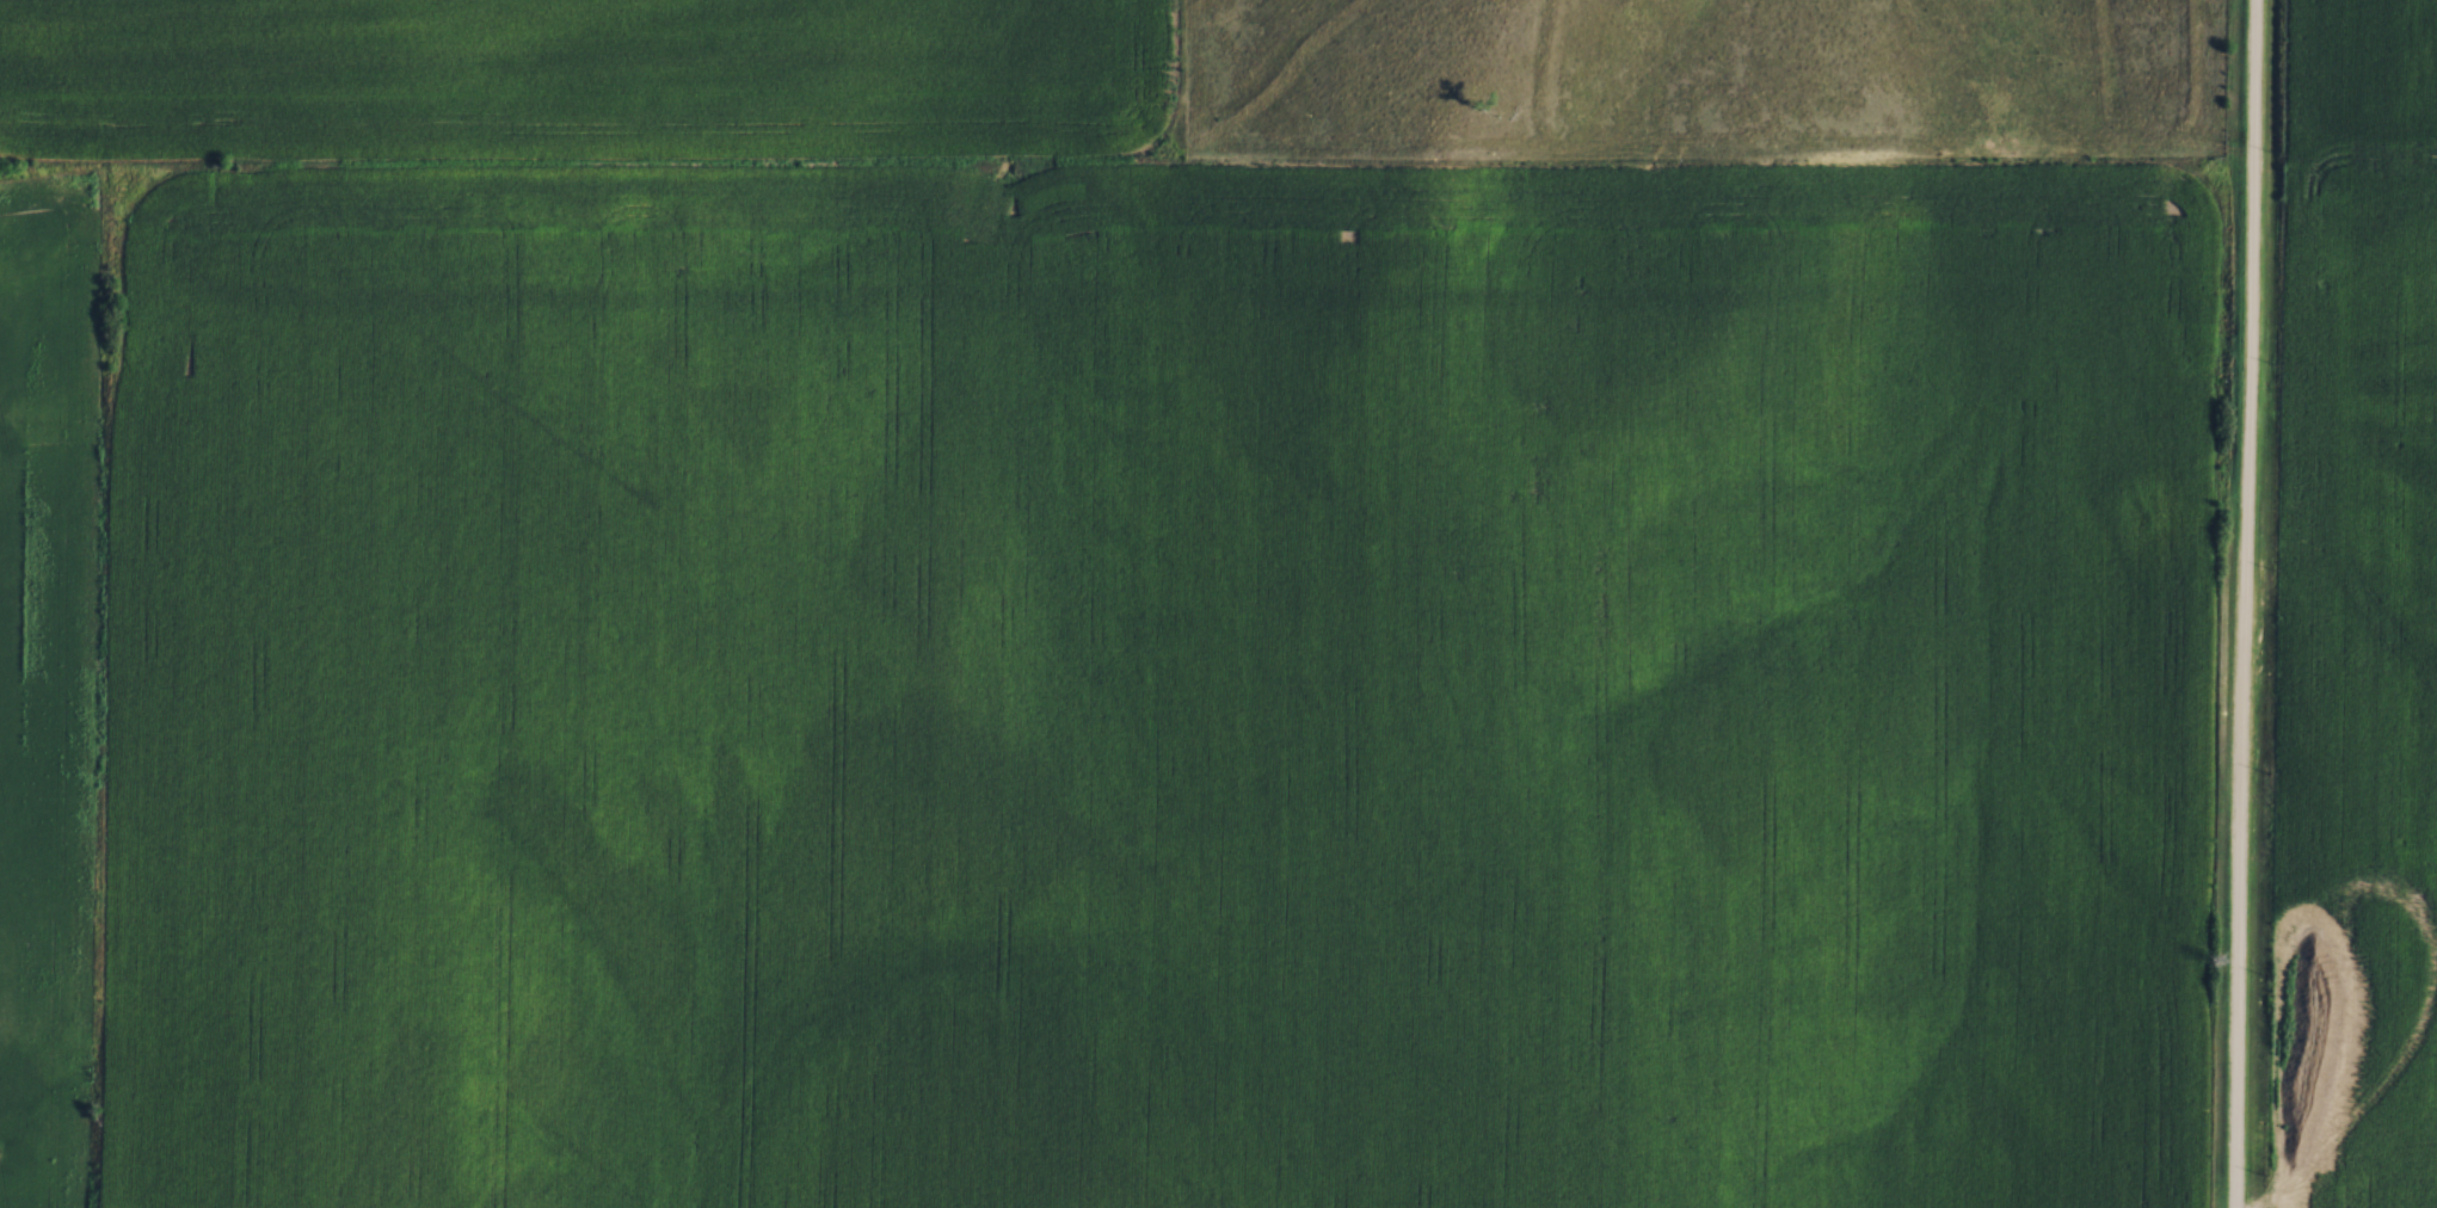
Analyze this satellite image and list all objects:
road: (2245, 604)

